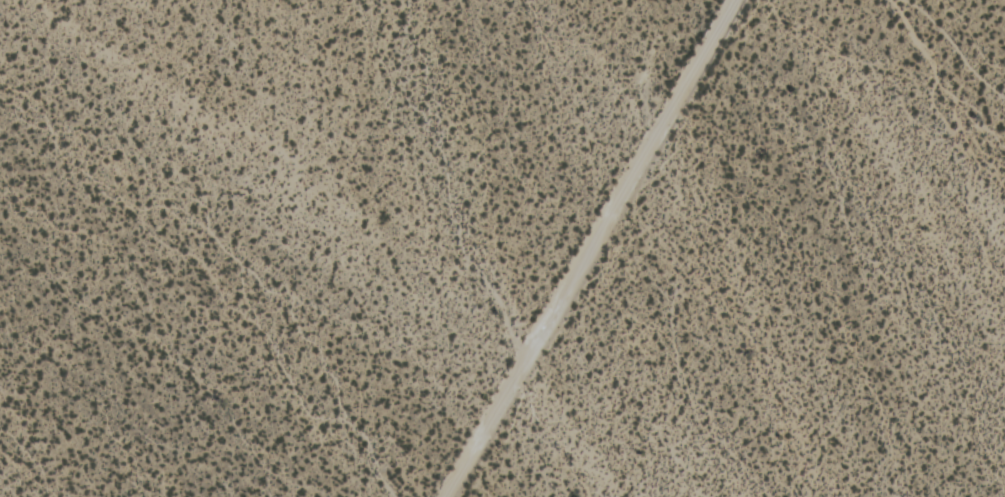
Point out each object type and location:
road: (604, 248)

